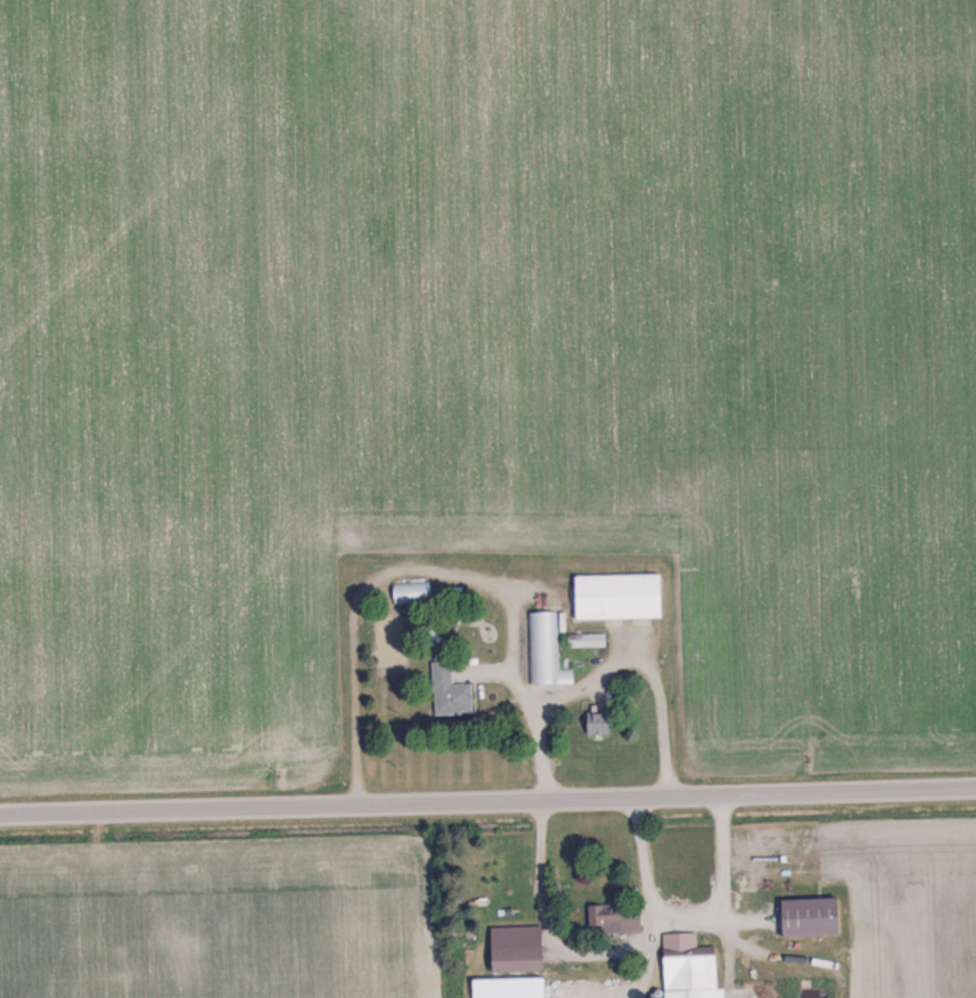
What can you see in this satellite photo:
building: (410, 591)
building: (615, 596)
building: (585, 639)
building: (546, 650)
building: (448, 690)
building: (596, 723)
road: (488, 804)
building: (806, 915)
building: (614, 916)
building: (516, 958)
building: (687, 967)
building: (506, 987)

